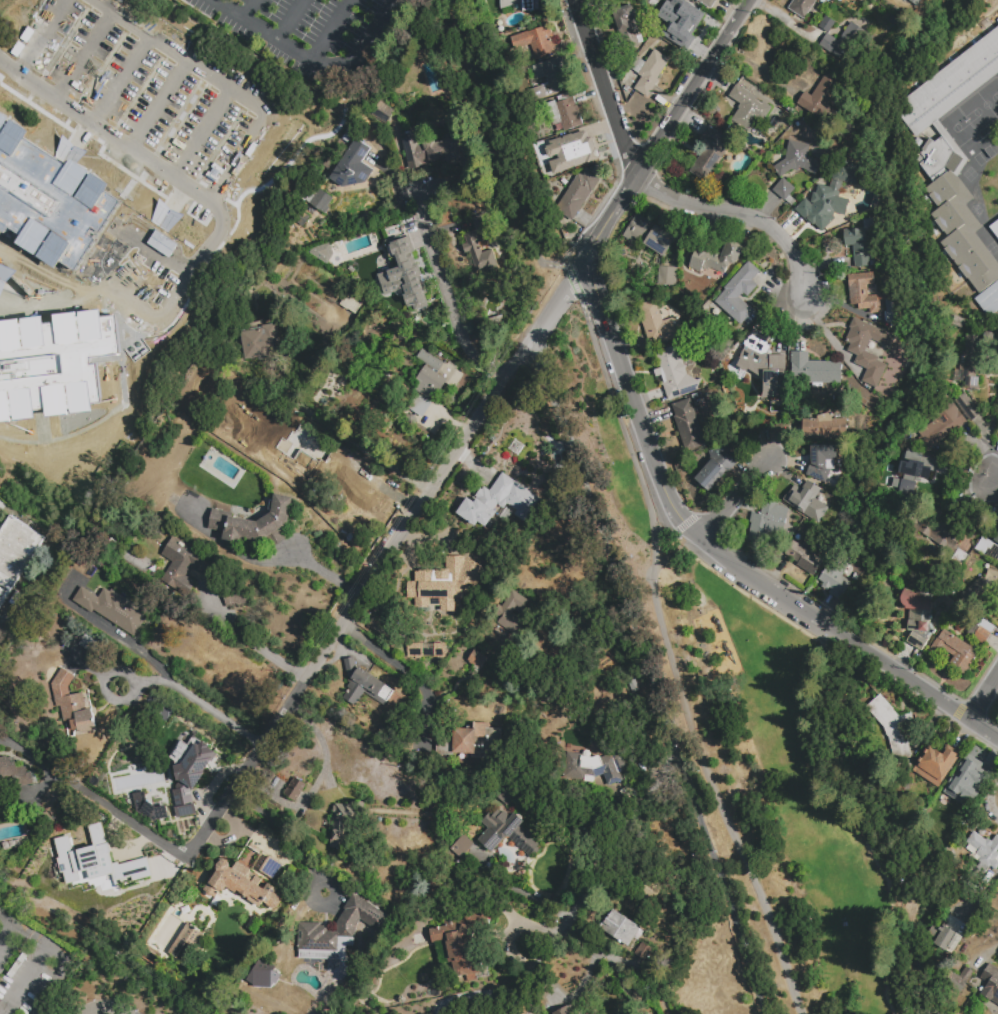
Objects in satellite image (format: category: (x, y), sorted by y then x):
building: (708, 3)
building: (915, 3)
building: (530, 6)
building: (49, 8)
building: (803, 8)
road: (250, 10)
building: (984, 16)
road: (292, 21)
building: (682, 23)
building: (827, 27)
building: (629, 28)
road: (332, 32)
road: (44, 38)
building: (543, 44)
building: (843, 48)
road: (85, 52)
road: (187, 52)
road: (252, 53)
road: (311, 63)
road: (9, 69)
building: (650, 74)
road: (120, 75)
building: (553, 75)
road: (475, 81)
building: (951, 88)
road: (605, 89)
road: (154, 97)
parking lot: (163, 97)
building: (822, 103)
building: (749, 110)
building: (383, 113)
building: (569, 114)
road: (189, 120)
building: (0, 131)
road: (665, 131)
building: (948, 136)
road: (220, 140)
road: (123, 143)
building: (436, 152)
building: (571, 152)
road: (236, 153)
building: (852, 154)
building: (710, 157)
building: (798, 162)
road: (283, 164)
building: (353, 169)
building: (834, 191)
building: (785, 192)
building: (577, 194)
building: (320, 200)
road: (745, 214)
building: (959, 214)
building: (994, 229)
building: (648, 238)
building: (865, 238)
building: (473, 245)
building: (323, 252)
building: (717, 260)
building: (765, 265)
road: (575, 269)
building: (400, 273)
road: (201, 279)
building: (668, 279)
building: (58, 283)
road: (447, 294)
building: (741, 297)
building: (873, 299)
building: (989, 300)
building: (352, 303)
road: (160, 318)
building: (660, 326)
building: (267, 346)
building: (862, 356)
building: (765, 363)
building: (971, 363)
building: (814, 371)
building: (678, 372)
building: (433, 384)
building: (866, 394)
building: (968, 409)
building: (826, 425)
building: (942, 426)
building: (689, 427)
road: (362, 443)
building: (47, 460)
building: (823, 464)
building: (797, 465)
building: (716, 472)
building: (73, 473)
road: (996, 476)
building: (909, 481)
road: (664, 483)
road: (732, 499)
building: (806, 501)
building: (498, 503)
parking lot: (0, 504)
building: (768, 524)
building: (256, 525)
road: (670, 531)
building: (937, 536)
building: (996, 542)
building: (988, 551)
building: (16, 557)
building: (805, 560)
road: (264, 561)
building: (183, 568)
building: (835, 578)
road: (368, 586)
building: (444, 587)
building: (982, 590)
building: (235, 599)
building: (114, 611)
building: (505, 614)
building: (918, 618)
building: (985, 634)
road: (259, 640)
road: (127, 643)
road: (850, 644)
building: (89, 646)
road: (668, 648)
building: (426, 649)
road: (346, 650)
building: (955, 650)
building: (478, 661)
road: (392, 665)
road: (90, 666)
building: (548, 672)
building: (365, 687)
road: (653, 690)
road: (928, 694)
road: (109, 695)
road: (984, 700)
road: (202, 705)
building: (73, 706)
building: (893, 729)
building: (472, 743)
building: (193, 746)
building: (637, 756)
building: (934, 767)
building: (596, 768)
building: (188, 772)
building: (15, 774)
road: (320, 776)
building: (967, 788)
building: (295, 792)
building: (506, 795)
building: (3, 796)
road: (94, 798)
road: (989, 799)
park: (803, 801)
building: (146, 808)
road: (852, 818)
building: (346, 825)
road: (285, 829)
building: (508, 834)
building: (463, 849)
building: (984, 849)
building: (90, 860)
building: (271, 869)
road: (722, 881)
building: (240, 885)
road: (518, 889)
building: (650, 890)
road: (979, 898)
building: (511, 905)
building: (339, 930)
building: (621, 930)
road: (513, 931)
road: (6, 934)
building: (461, 941)
building: (948, 941)
building: (185, 943)
building: (153, 952)
road: (59, 953)
building: (644, 954)
road: (640, 971)
road: (26, 979)
road: (583, 980)
building: (957, 981)
building: (991, 985)
road: (456, 996)
road: (101, 1010)
building: (558, 1013)

